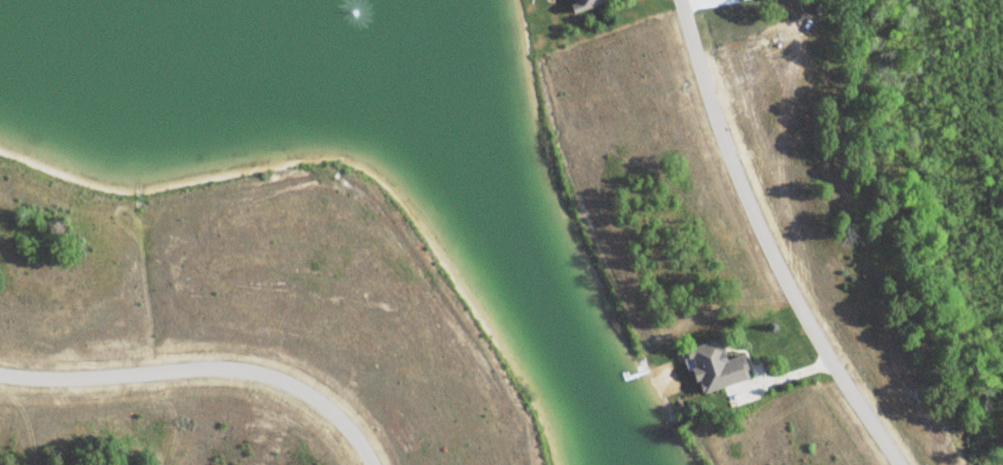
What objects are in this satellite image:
building: (596, 3)
road: (767, 242)
building: (719, 365)
road: (204, 368)

